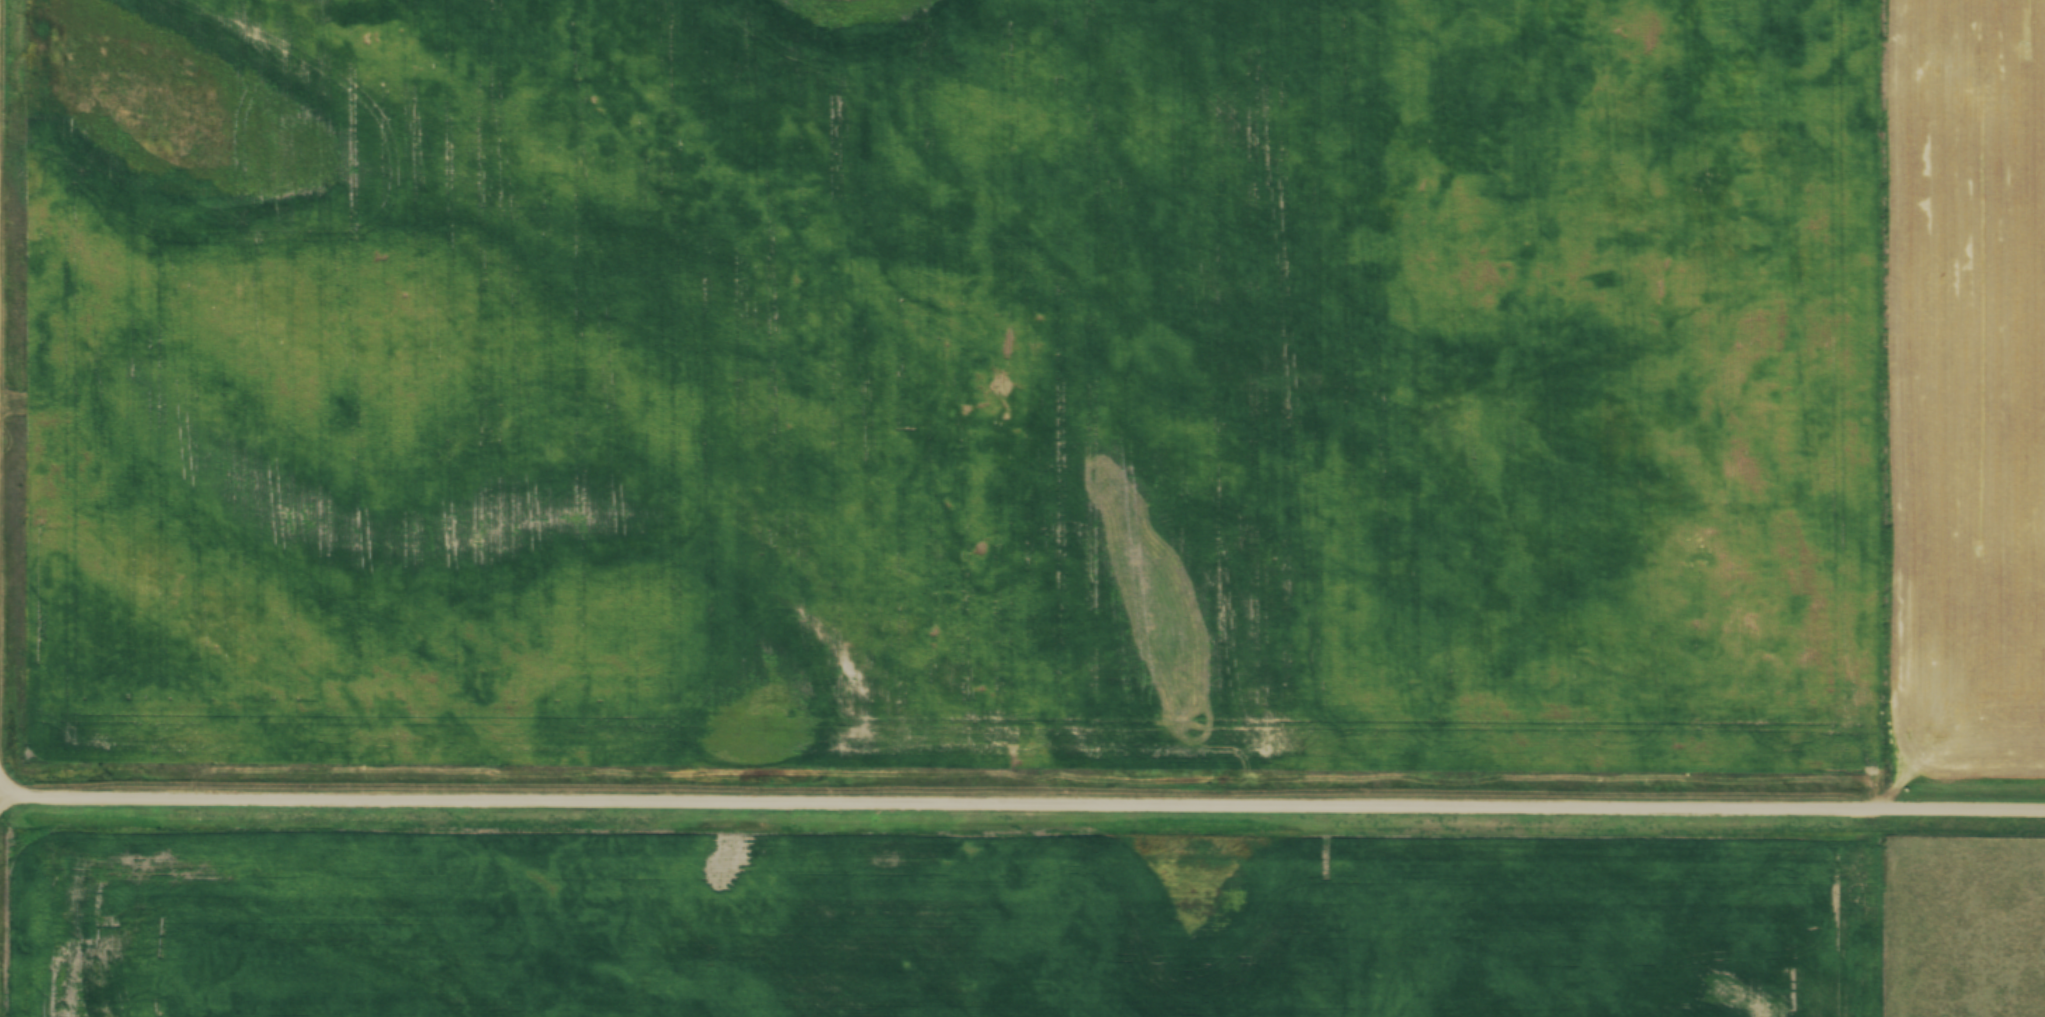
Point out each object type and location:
road: (1022, 801)

